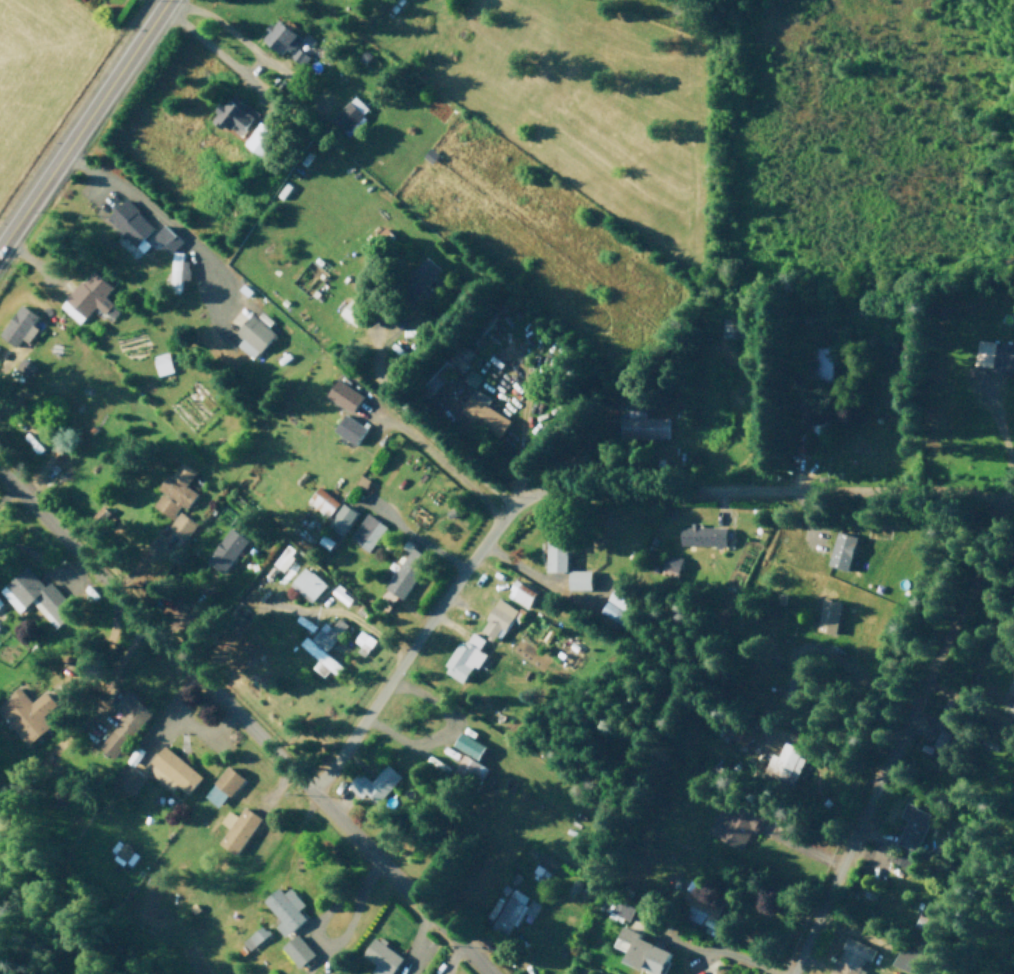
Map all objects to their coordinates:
building: (281, 36)
building: (300, 56)
road: (266, 81)
crop: (53, 83)
crop: (586, 107)
building: (350, 114)
building: (234, 116)
road: (82, 121)
building: (261, 138)
road: (152, 207)
building: (131, 223)
building: (168, 238)
building: (179, 264)
building: (424, 274)
building: (89, 296)
building: (353, 310)
building: (21, 325)
building: (254, 335)
building: (984, 352)
building: (1004, 357)
building: (829, 361)
building: (163, 362)
building: (473, 377)
building: (346, 395)
building: (486, 412)
building: (645, 427)
building: (351, 428)
road: (507, 445)
building: (61, 451)
road: (448, 473)
building: (177, 490)
building: (323, 501)
building: (343, 518)
building: (183, 524)
building: (368, 531)
building: (704, 534)
building: (557, 546)
building: (228, 549)
building: (843, 549)
building: (285, 556)
road: (973, 564)
building: (671, 565)
building: (408, 572)
building: (580, 579)
building: (309, 584)
building: (522, 593)
building: (342, 595)
building: (37, 596)
building: (0, 603)
building: (622, 604)
building: (830, 615)
road: (428, 618)
building: (498, 619)
building: (363, 641)
building: (325, 646)
building: (466, 657)
building: (1012, 688)
building: (794, 689)
building: (1012, 707)
building: (23, 712)
building: (126, 724)
road: (243, 724)
building: (742, 733)
building: (948, 740)
building: (471, 745)
building: (786, 761)
building: (472, 768)
building: (173, 769)
building: (229, 778)
building: (376, 783)
building: (735, 823)
building: (913, 826)
building: (242, 829)
road: (294, 831)
building: (124, 853)
building: (701, 905)
building: (619, 907)
building: (284, 909)
building: (516, 910)
building: (927, 926)
road: (415, 934)
building: (256, 937)
road: (719, 946)
building: (296, 950)
building: (646, 951)
building: (853, 957)
building: (912, 959)
building: (382, 961)

